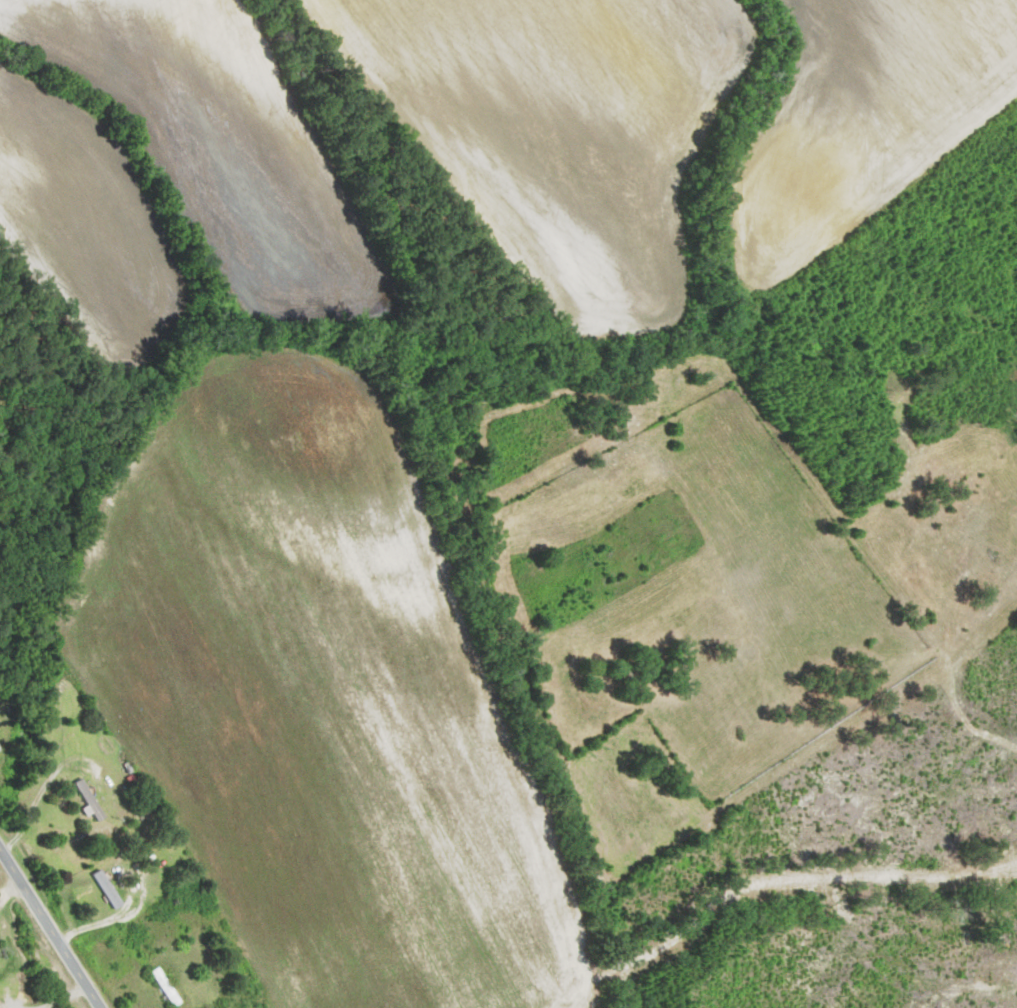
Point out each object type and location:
building: (1, 748)
building: (109, 890)
road: (50, 927)
building: (137, 939)
building: (168, 987)
building: (3, 1007)

